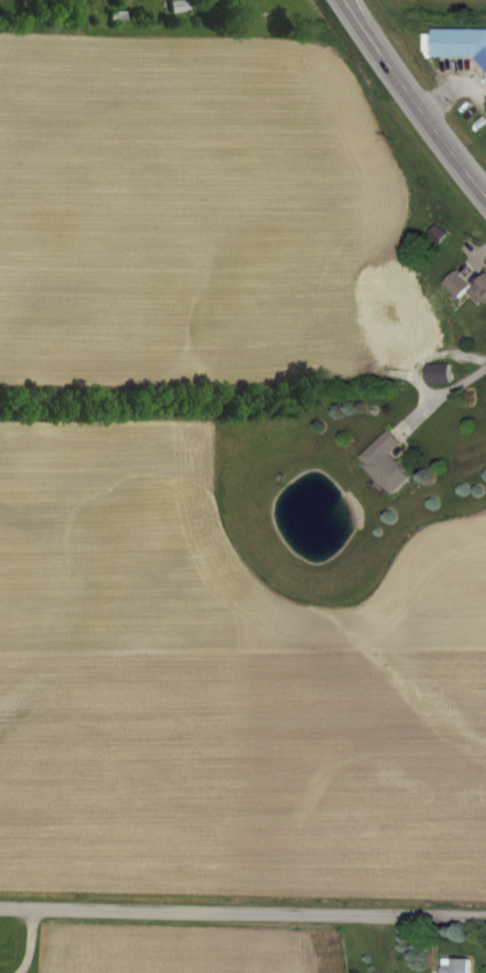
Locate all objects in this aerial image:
building: (176, 5)
building: (459, 43)
road: (415, 97)
building: (457, 284)
building: (479, 290)
building: (399, 314)
building: (441, 373)
building: (483, 389)
road: (443, 397)
building: (388, 463)
crop: (208, 495)
road: (243, 912)
crop: (146, 928)
road: (28, 941)
building: (458, 965)

